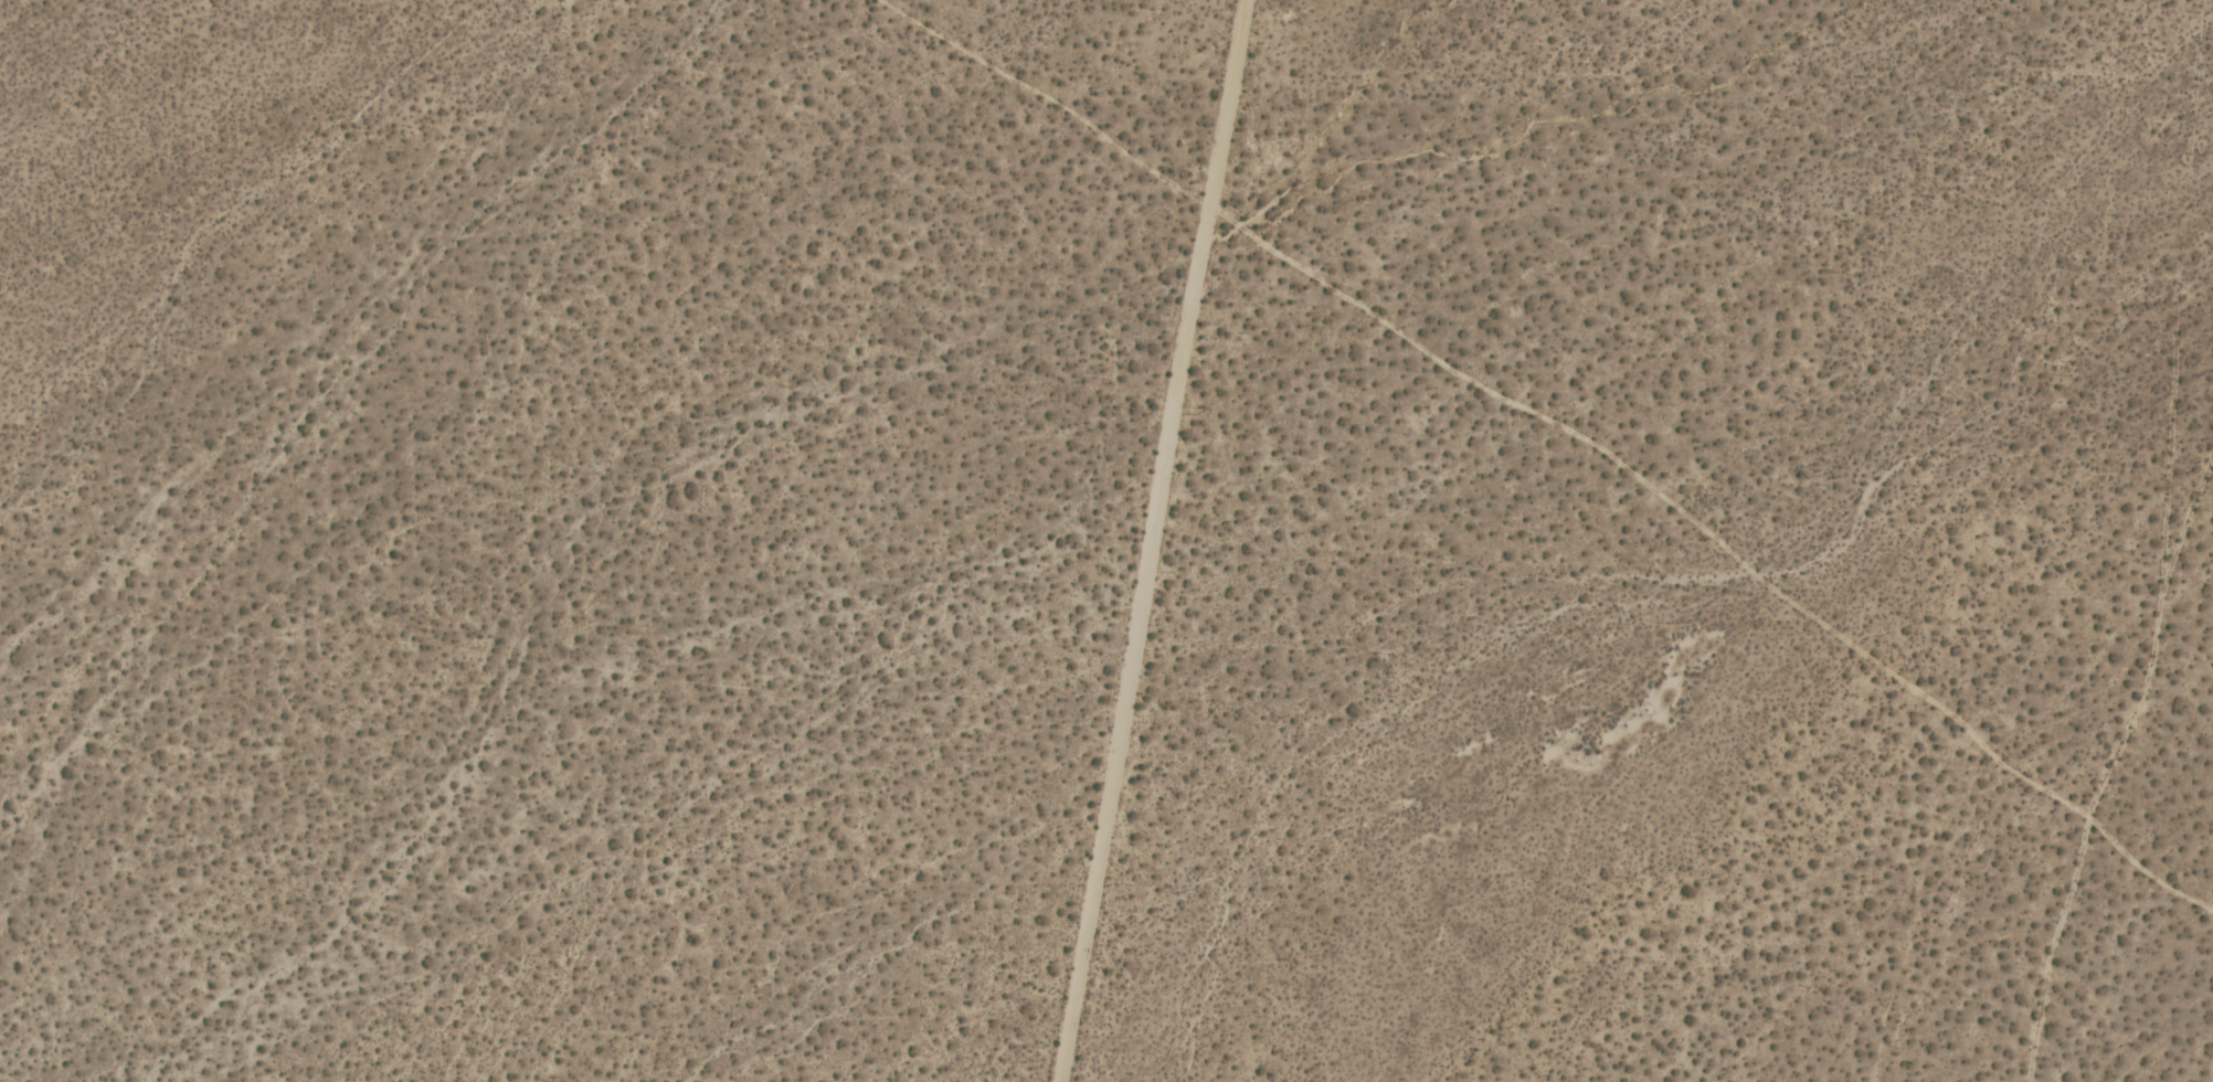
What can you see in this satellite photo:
road: (1150, 541)

